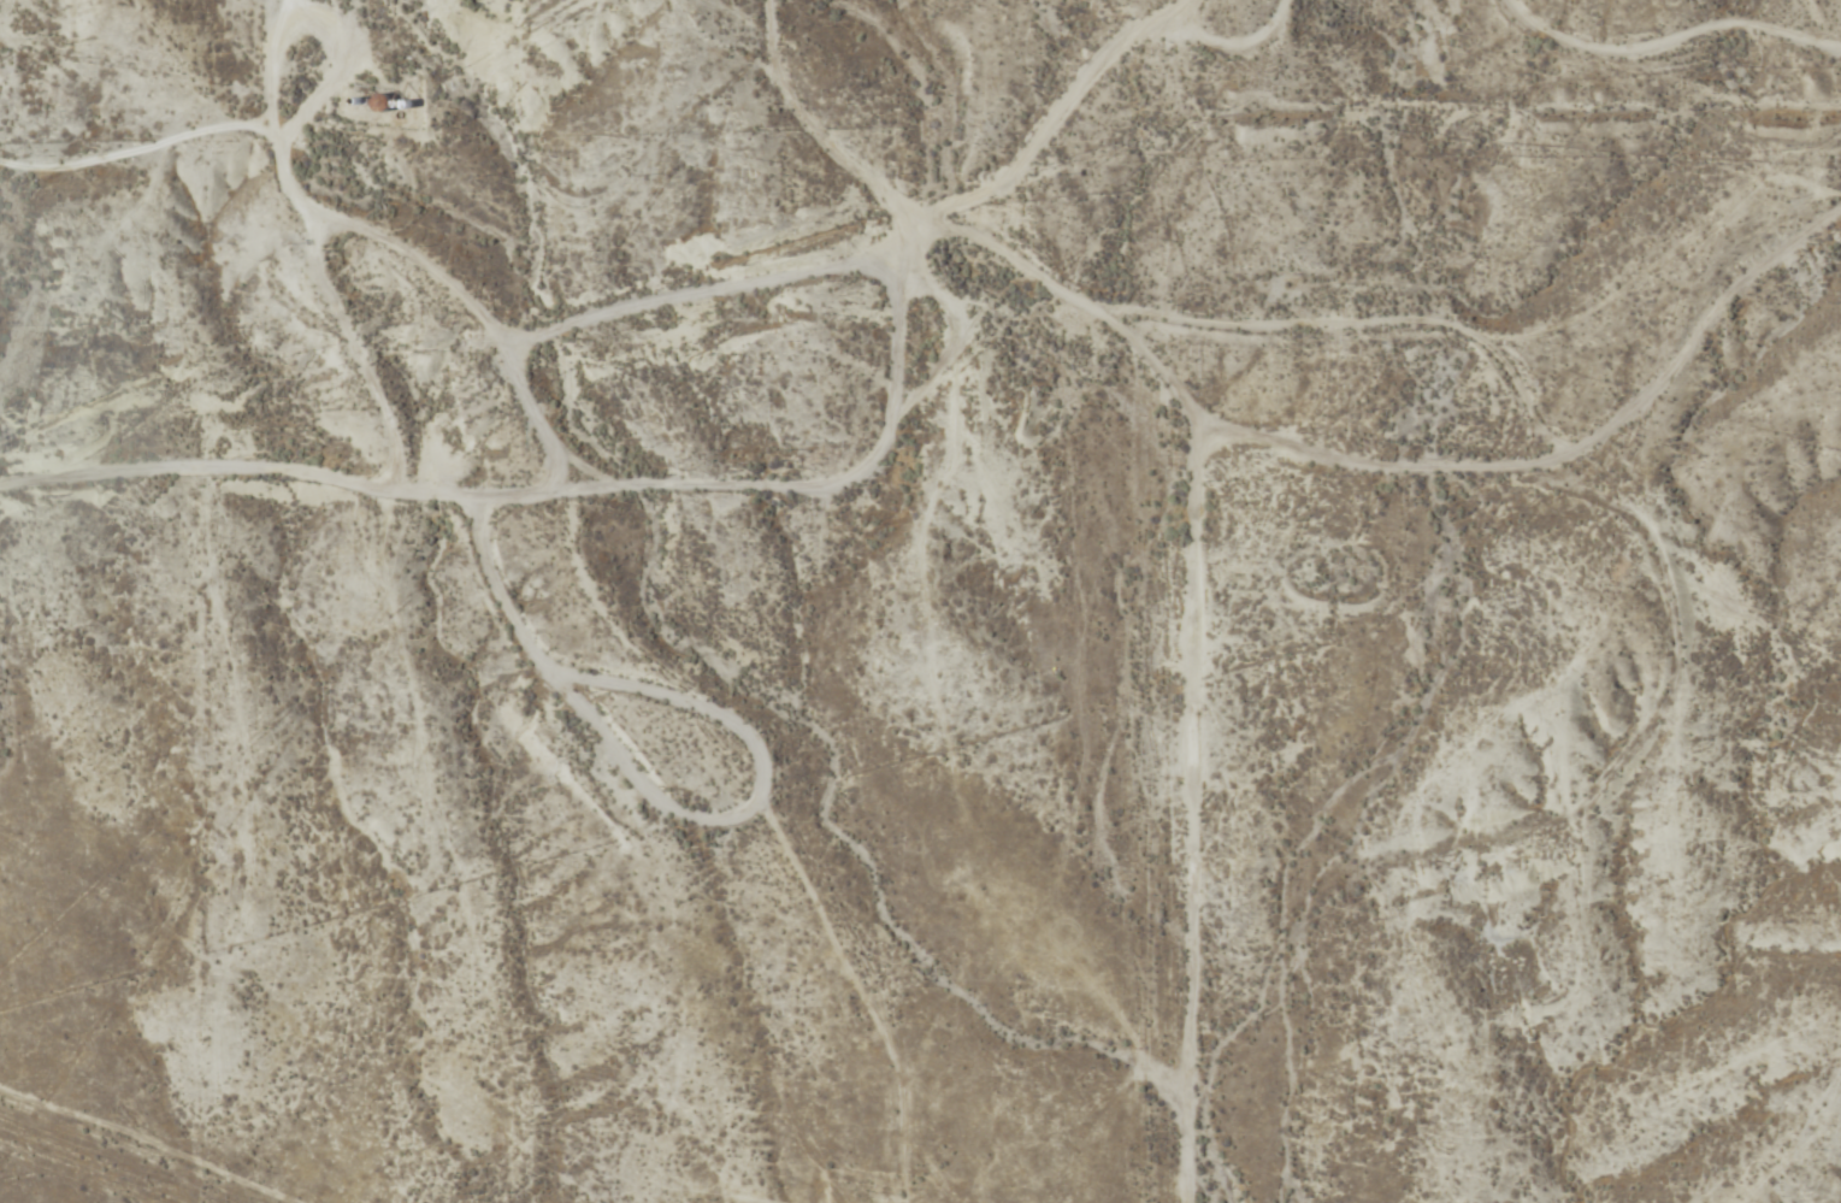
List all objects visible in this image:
road: (727, 489)

